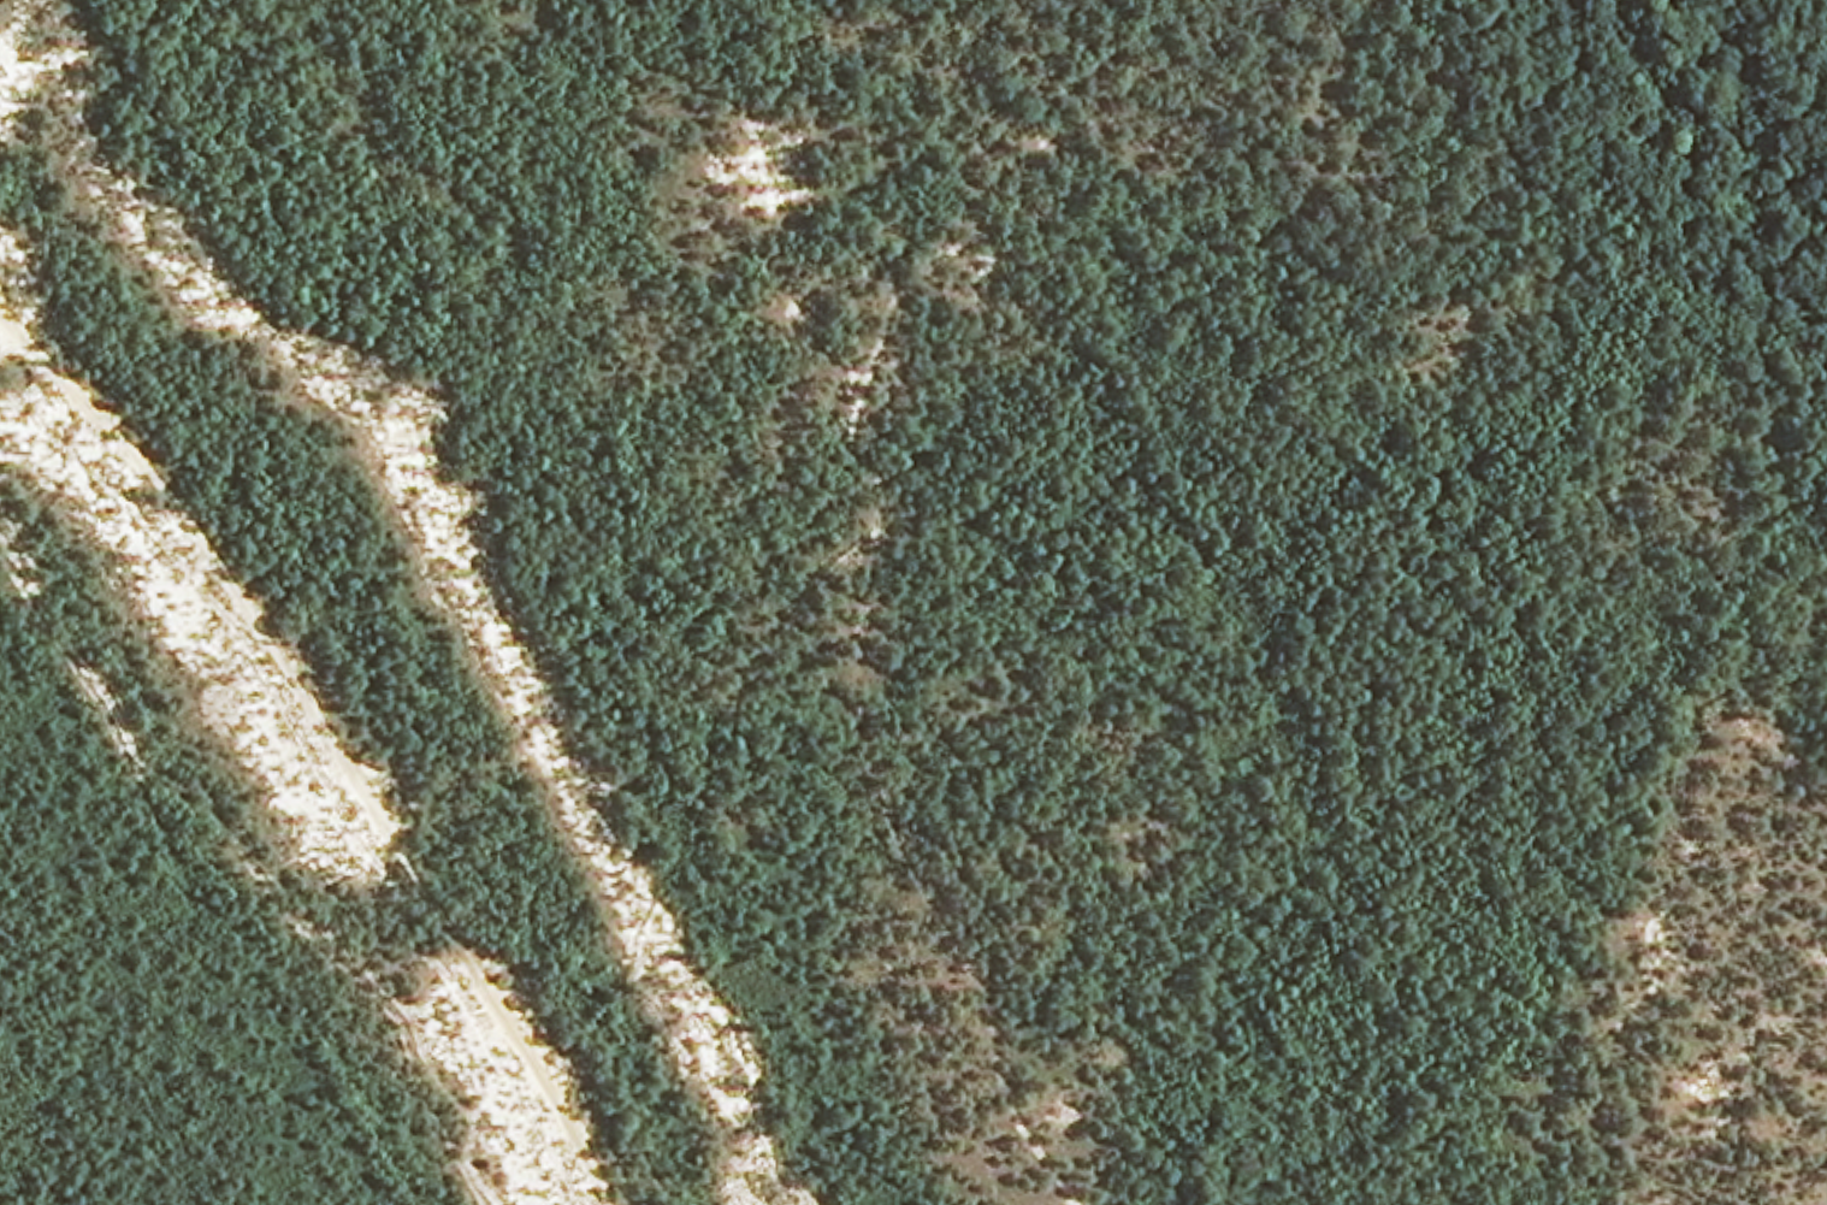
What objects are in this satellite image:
road: (317, 698)

